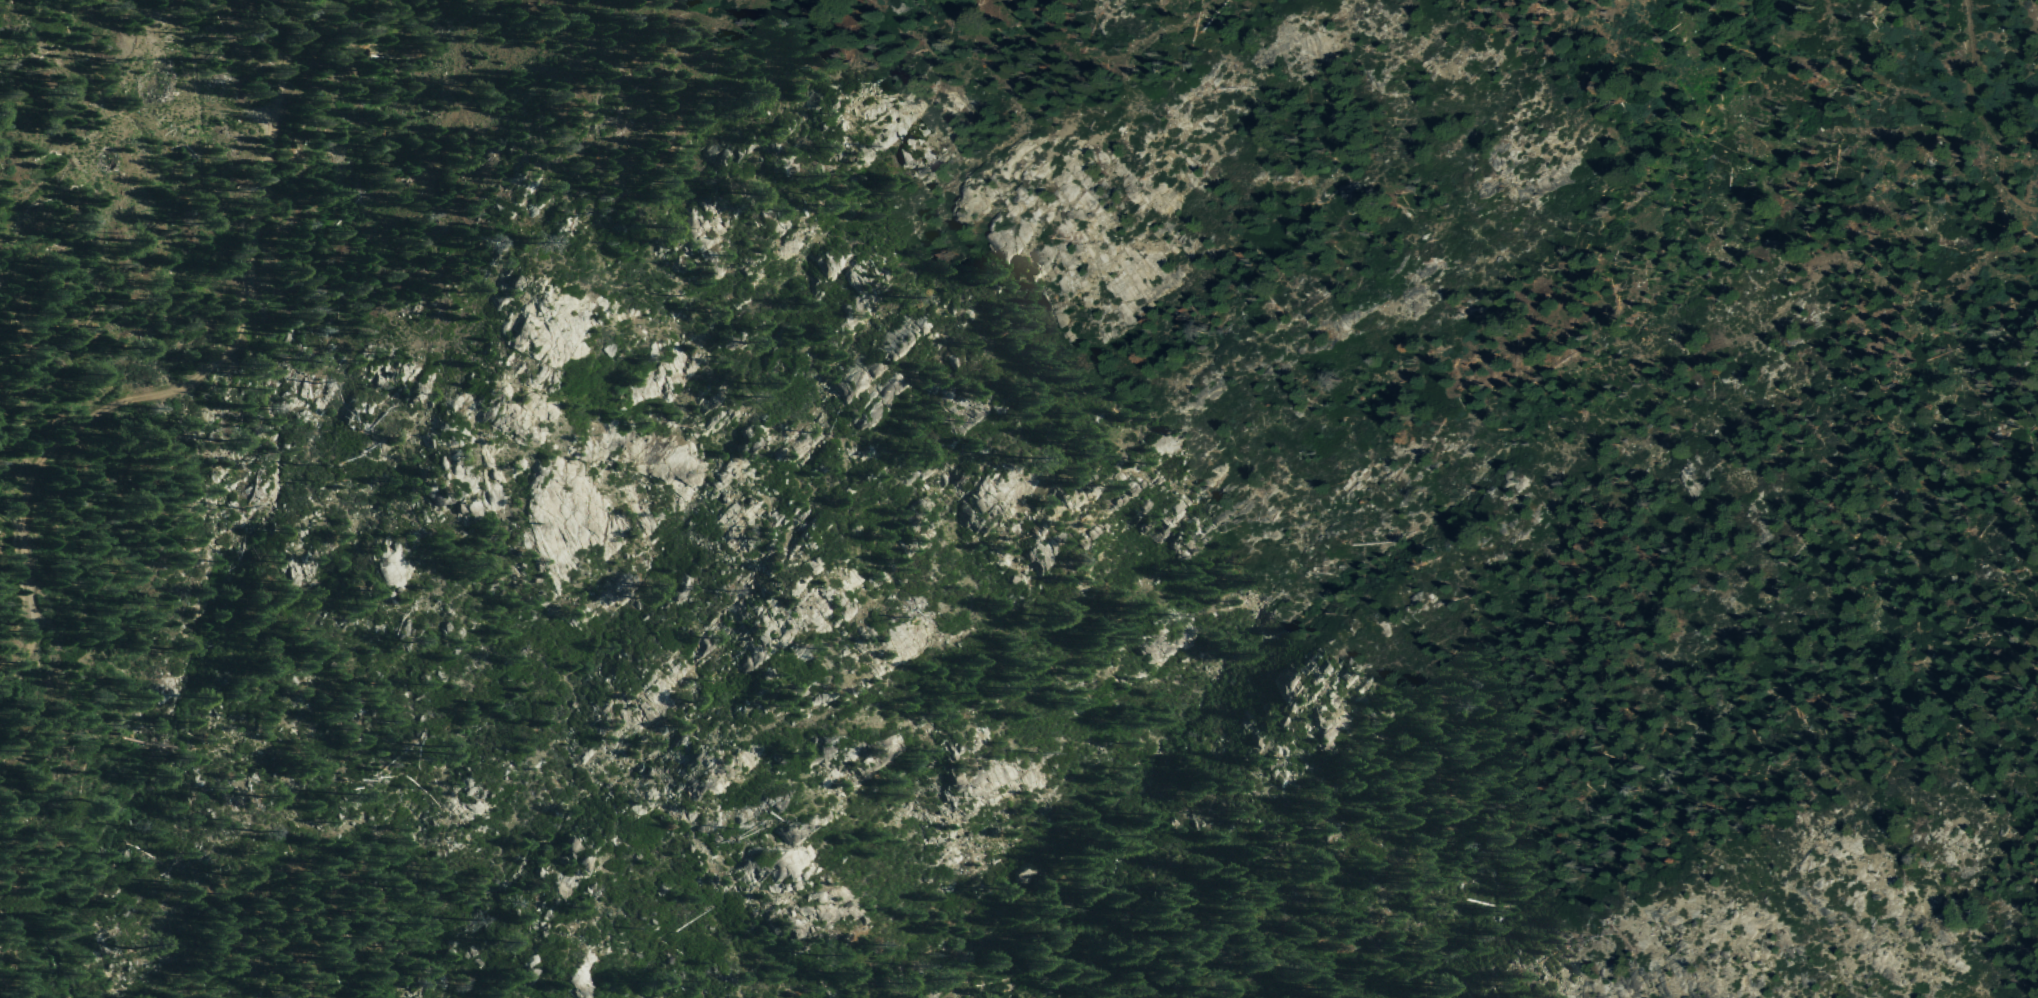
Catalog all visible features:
road: (218, 282)

